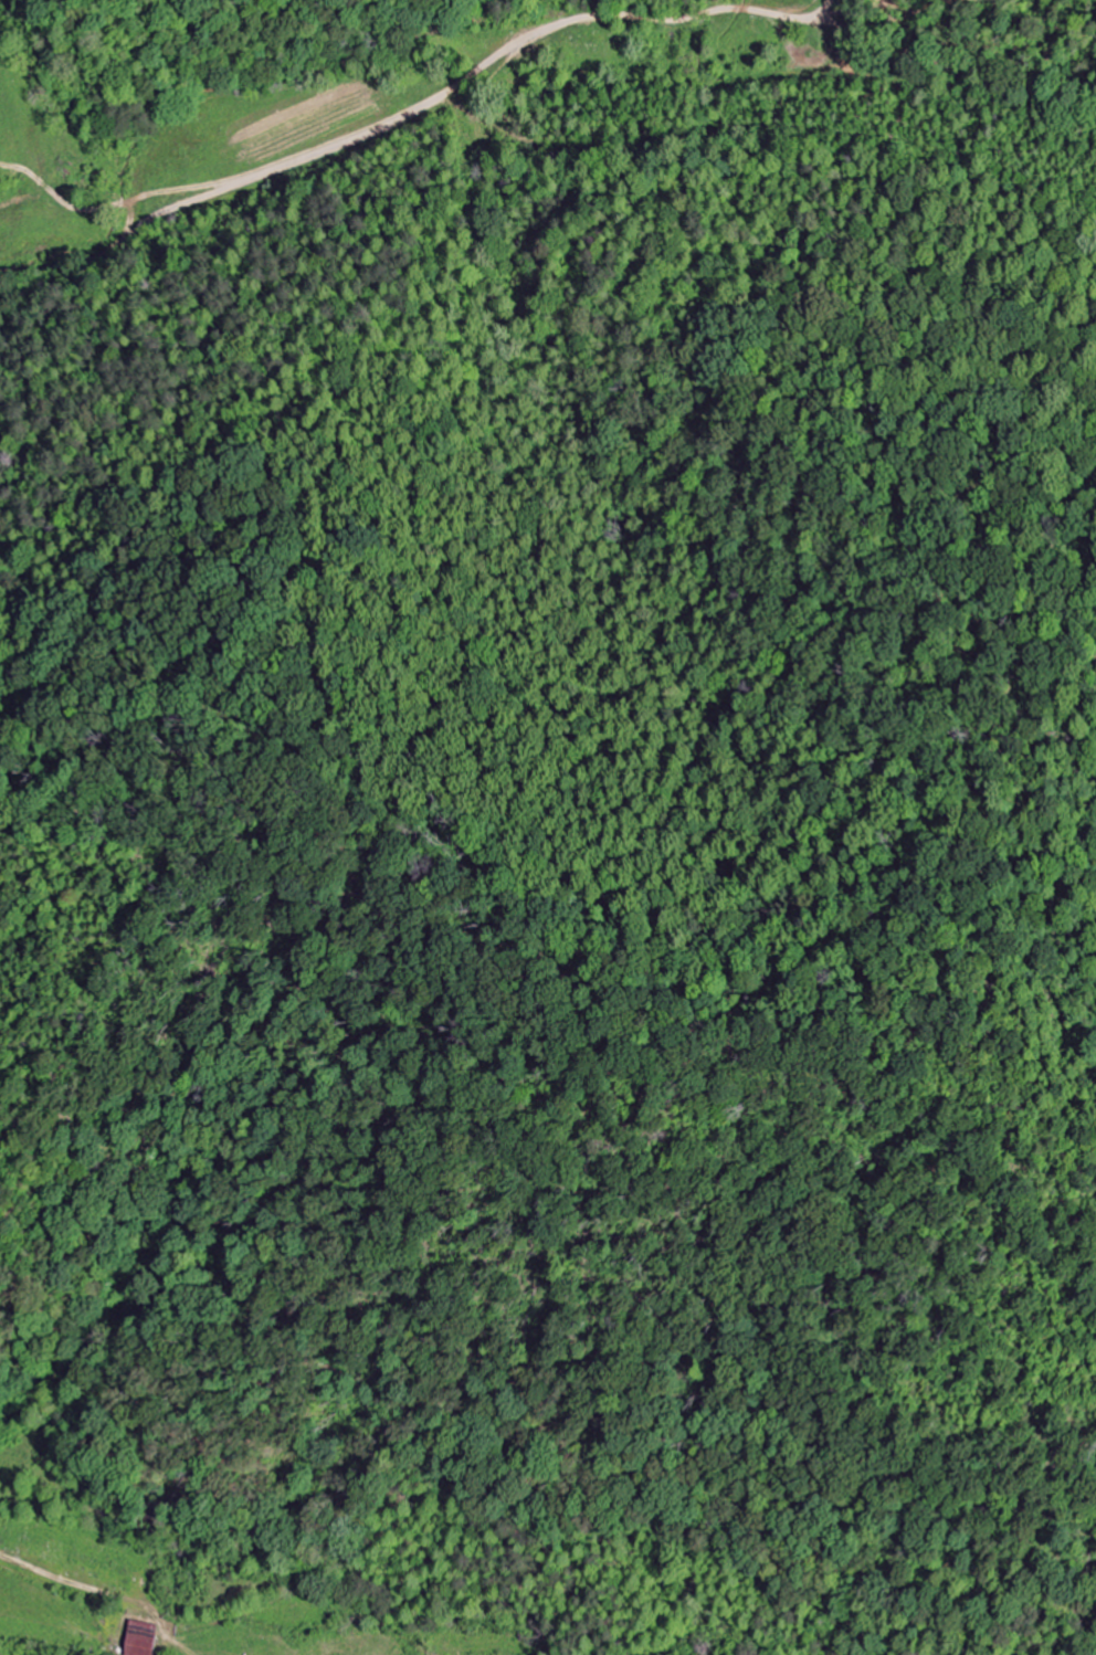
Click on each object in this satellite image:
building: (144, 1642)

